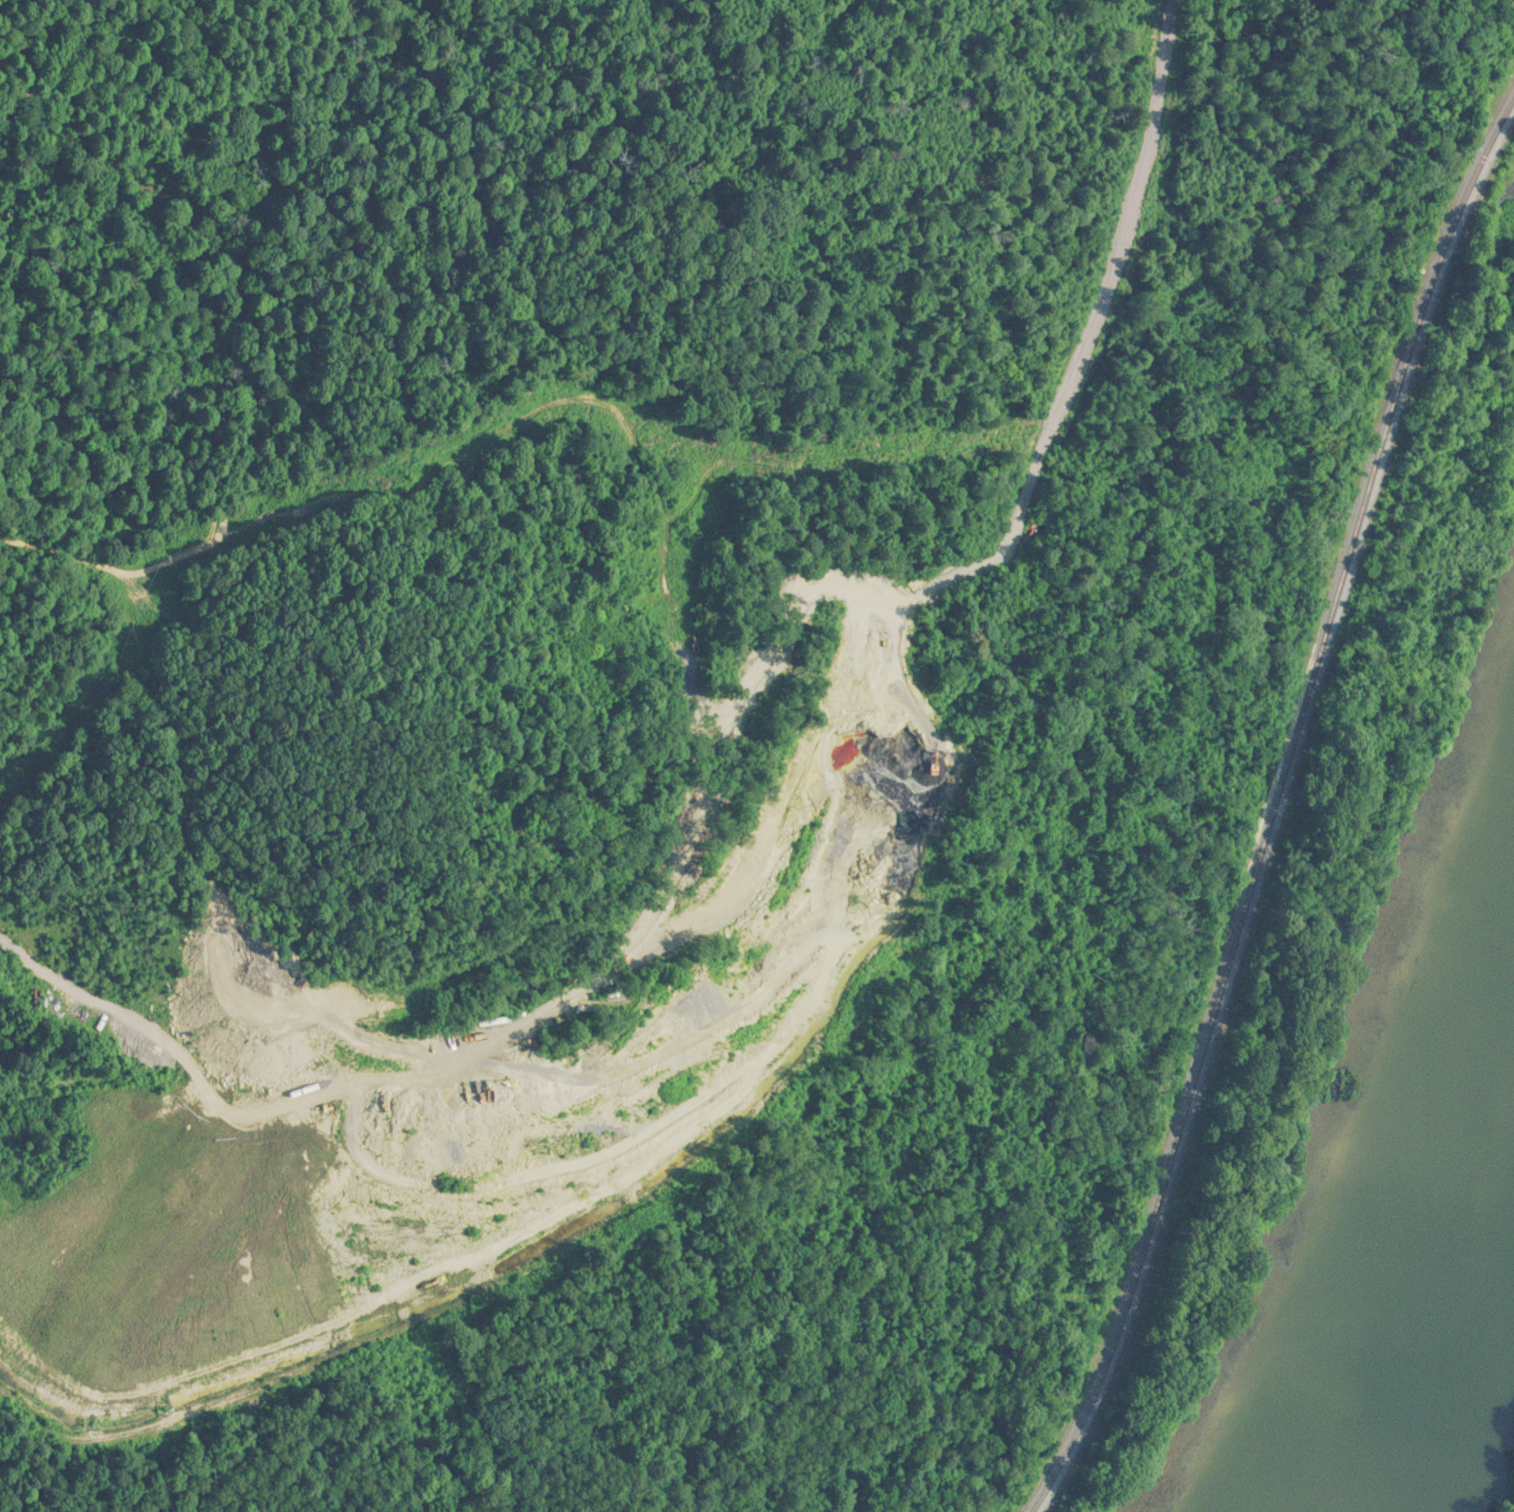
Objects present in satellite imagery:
road: (1172, 0)
railway: (1276, 811)
road: (794, 912)
river: (1430, 1274)

